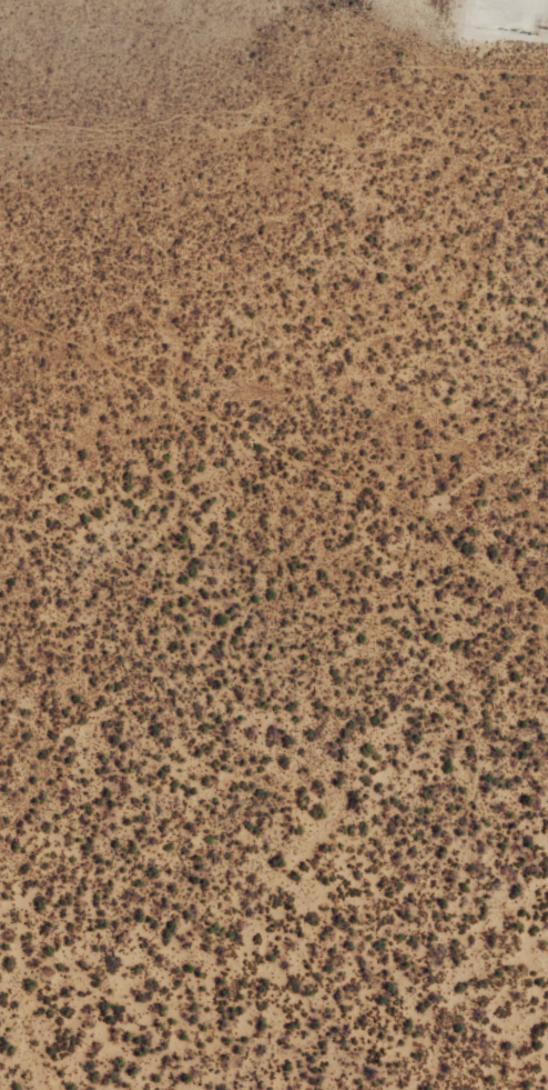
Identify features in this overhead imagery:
road: (544, 13)

